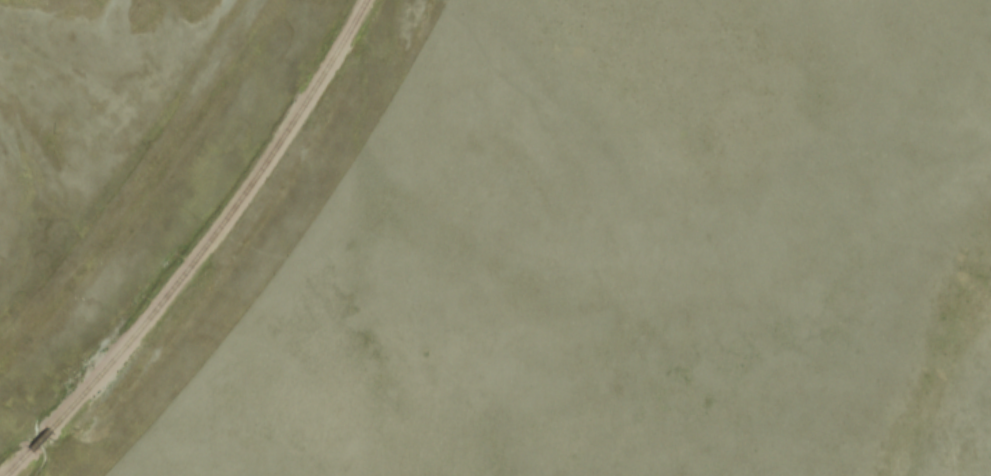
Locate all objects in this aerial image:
railway: (216, 224)
railway: (34, 439)
railway: (12, 462)

